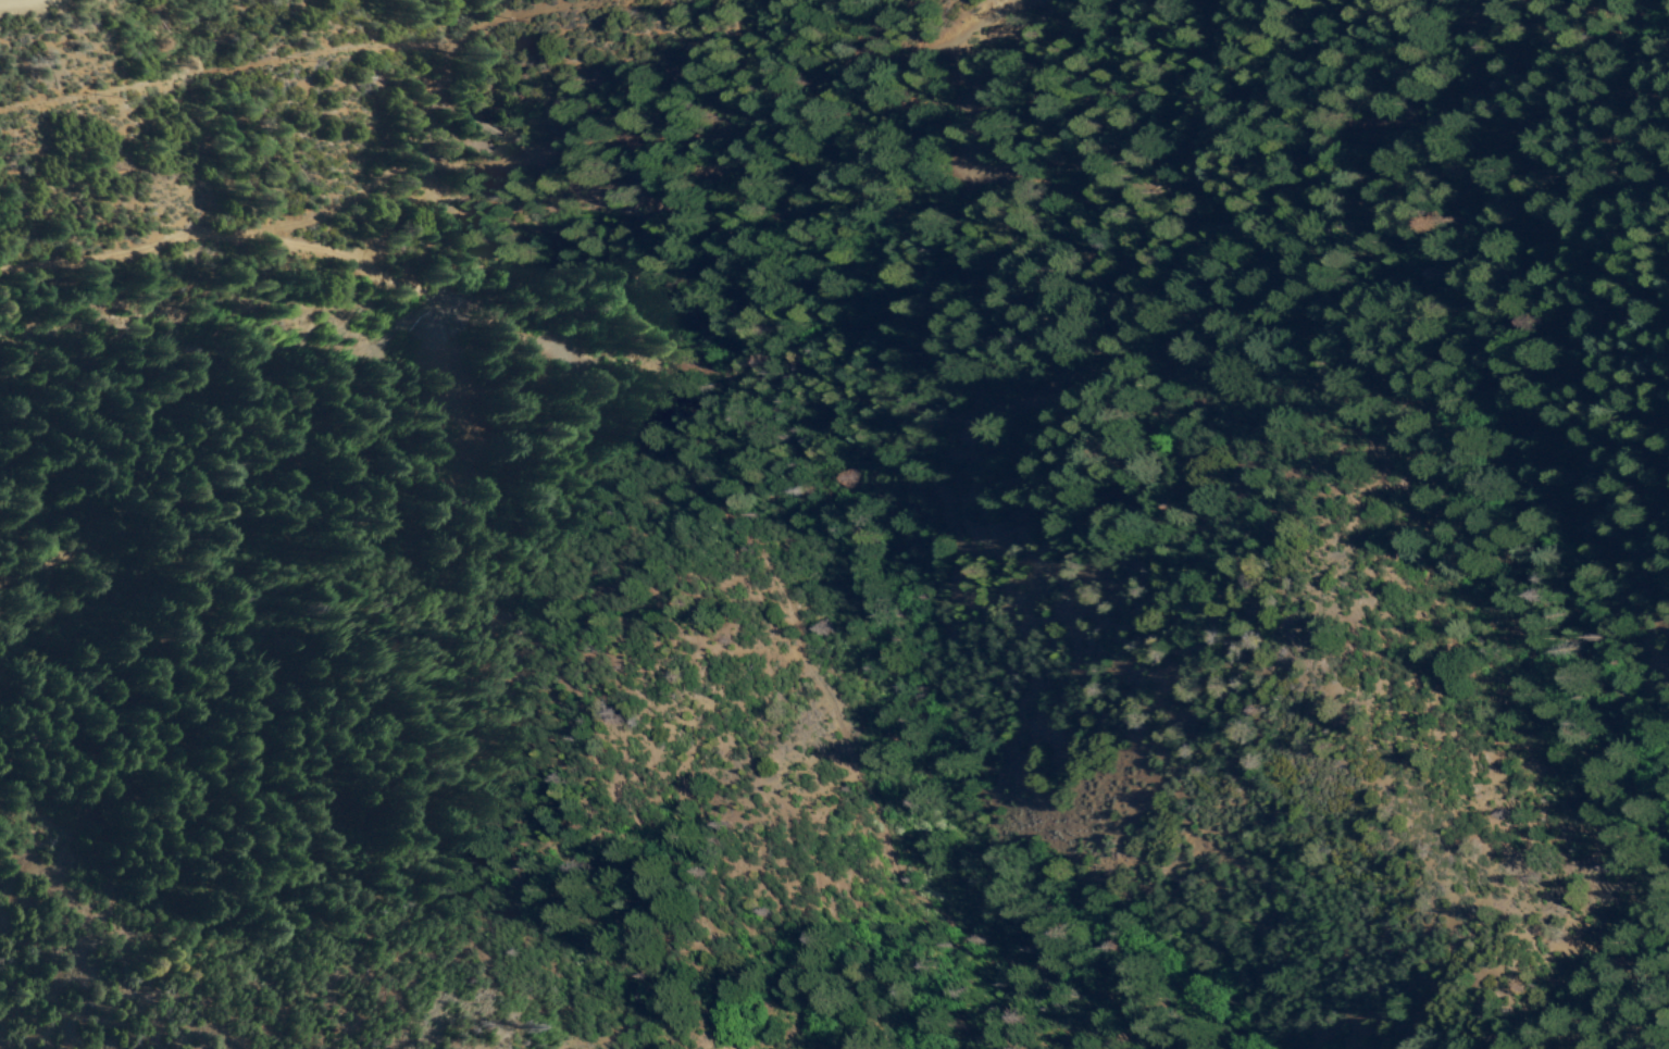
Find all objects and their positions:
road: (12, 2)
road: (427, 93)
road: (217, 236)

